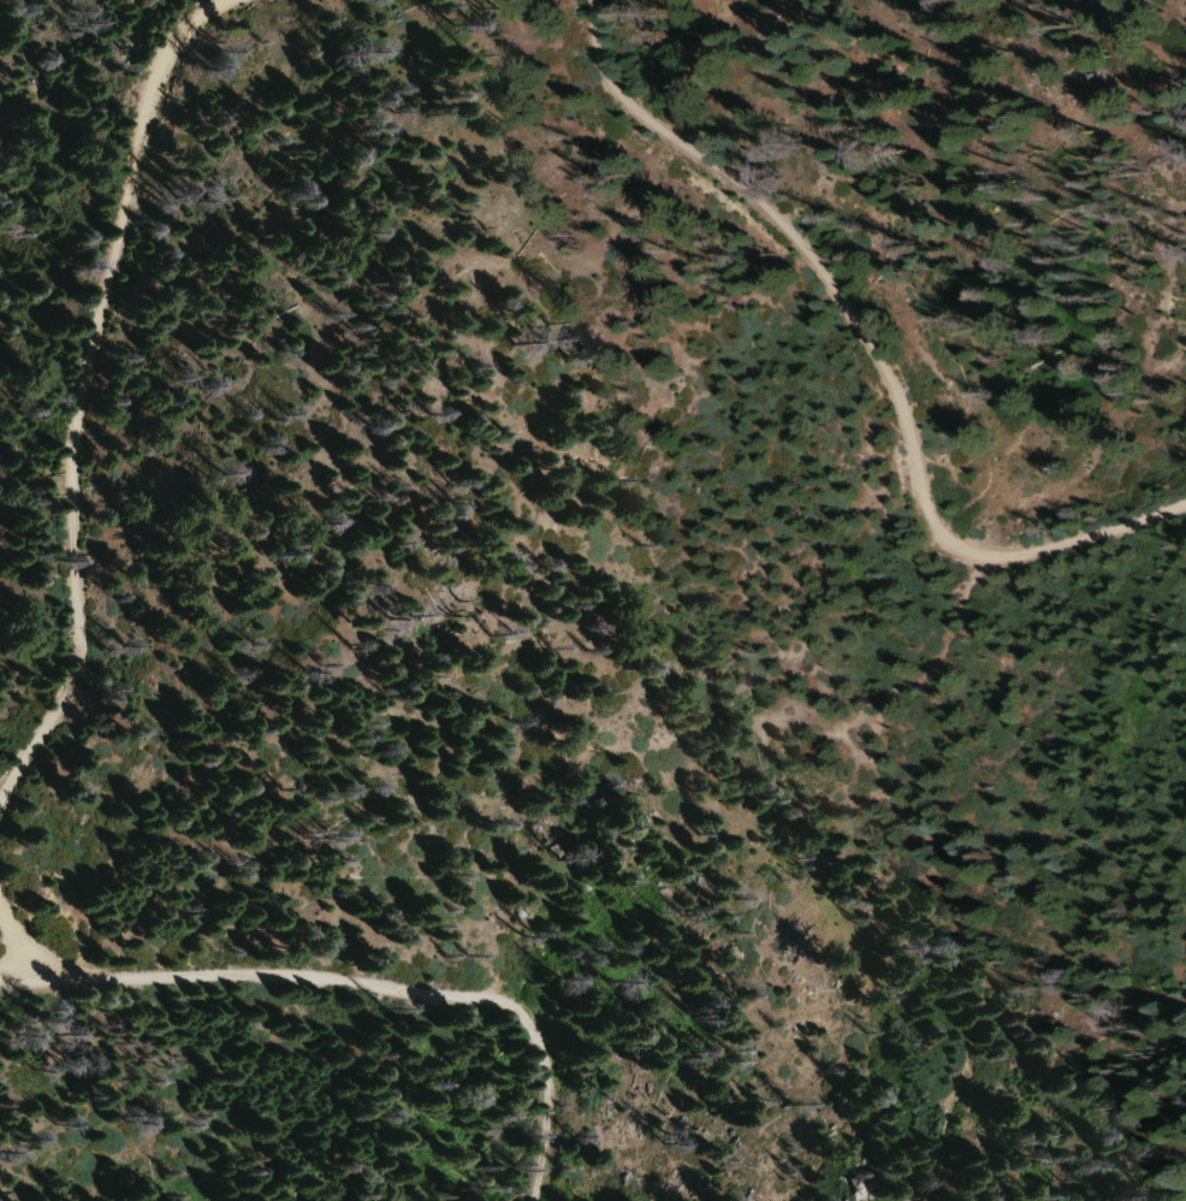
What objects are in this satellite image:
road: (872, 333)
road: (81, 383)
road: (17, 945)
road: (356, 990)

